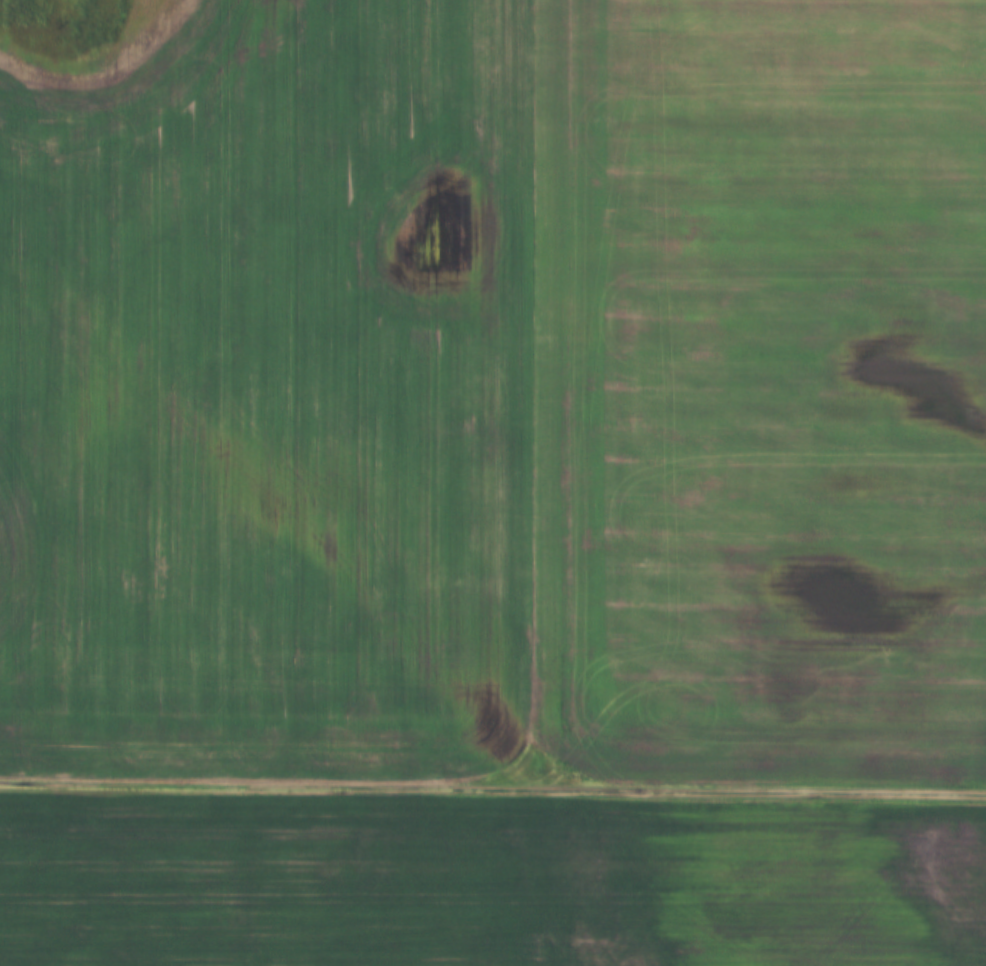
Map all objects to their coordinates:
road: (492, 782)

